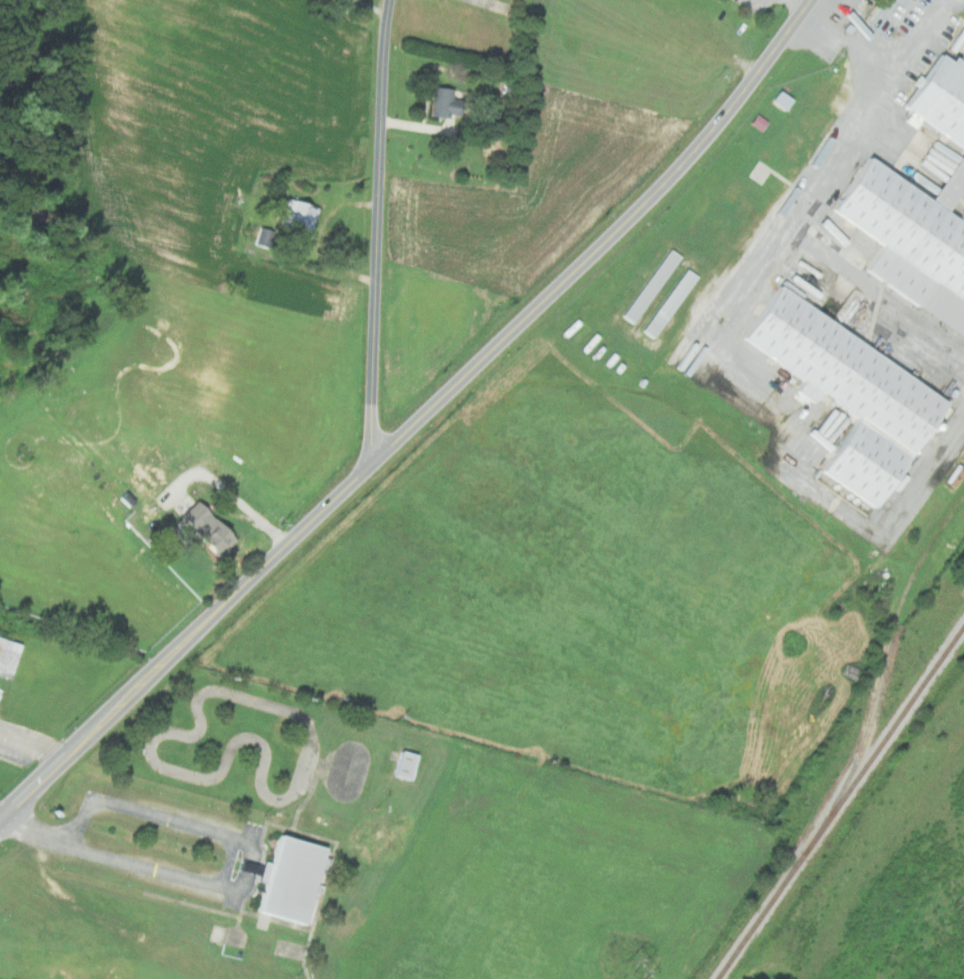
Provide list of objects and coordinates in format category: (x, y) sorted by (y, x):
road: (872, 46)
road: (892, 56)
building: (441, 101)
building: (917, 205)
building: (297, 214)
road: (378, 233)
building: (650, 285)
building: (669, 300)
road: (719, 334)
building: (847, 392)
road: (420, 424)
building: (203, 527)
building: (7, 654)
railway: (883, 672)
road: (36, 741)
building: (403, 764)
road: (107, 799)
railway: (841, 803)
road: (81, 848)
road: (230, 859)
building: (287, 878)
power tower: (957, 906)
power tower: (634, 971)

